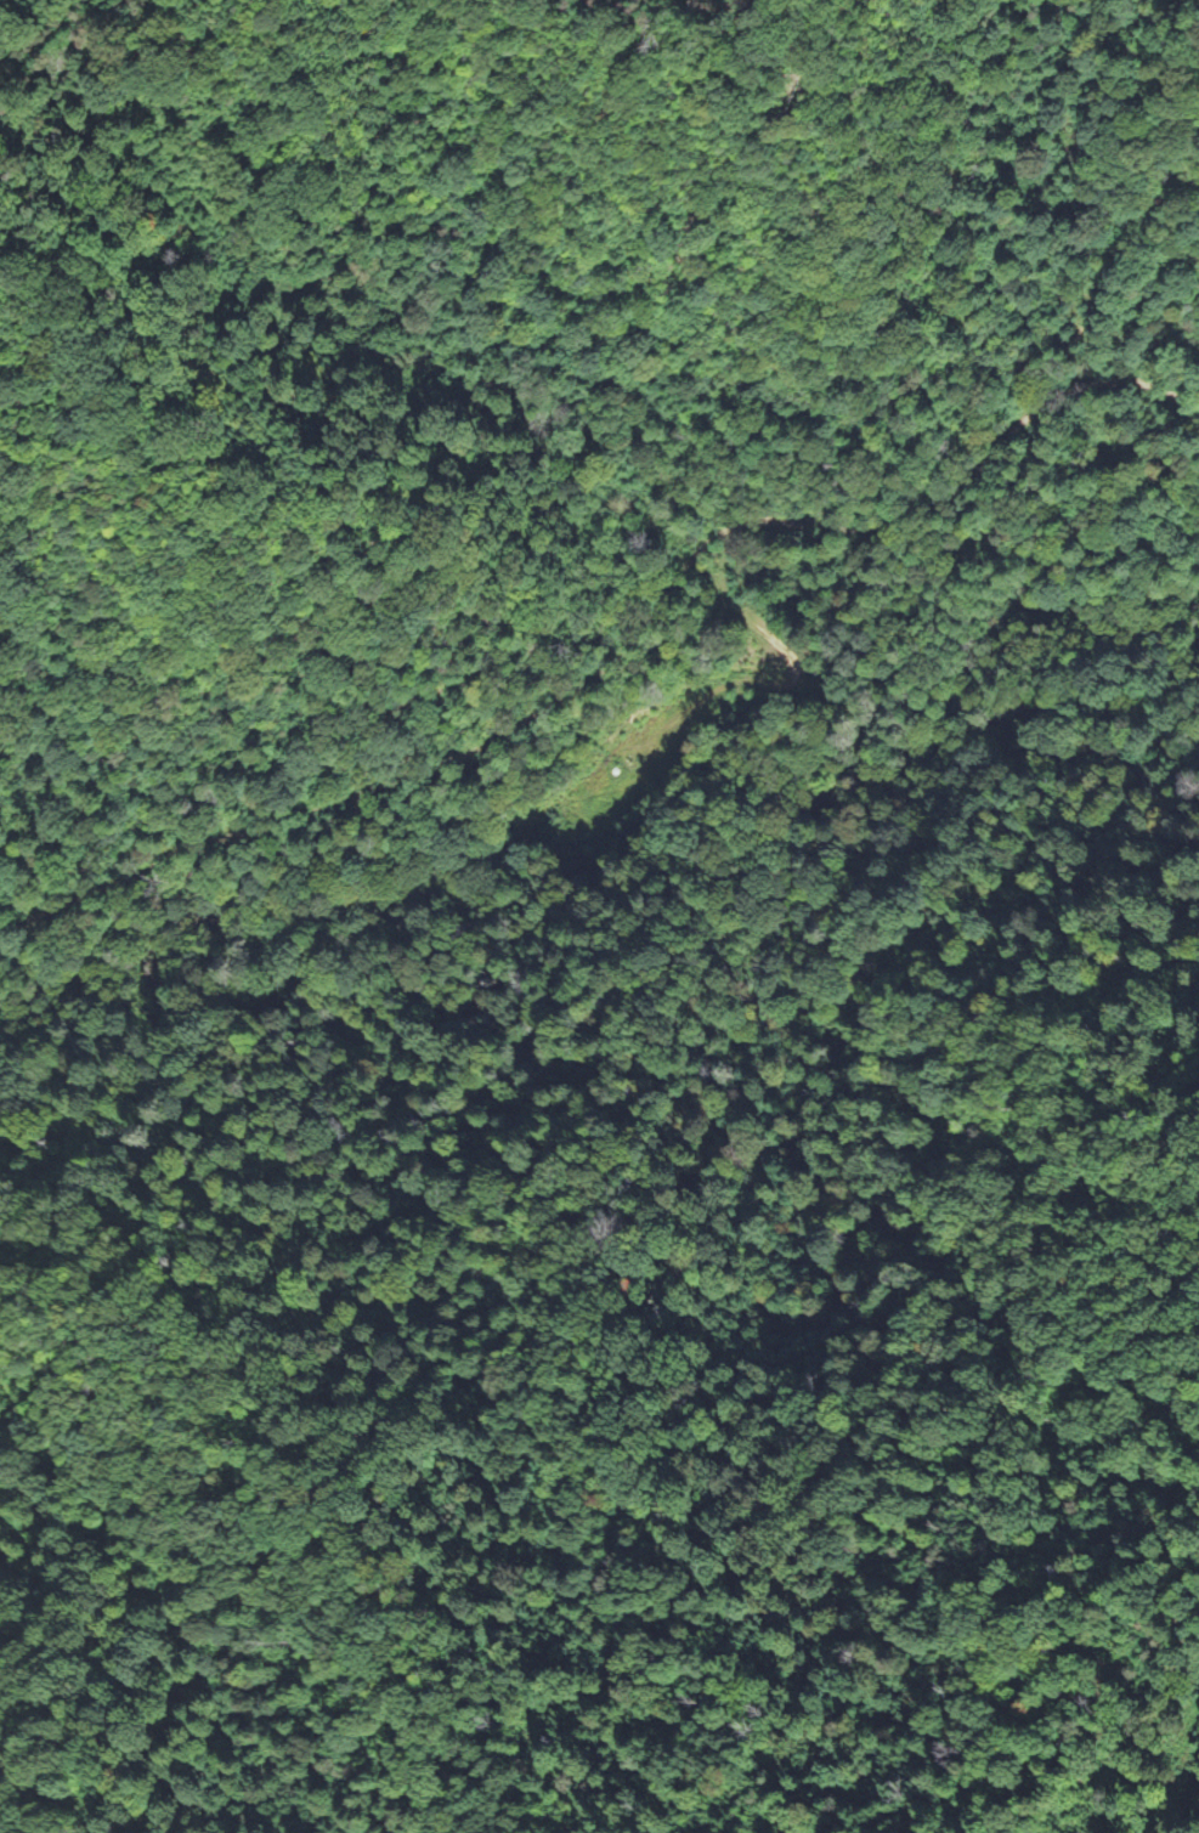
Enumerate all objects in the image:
road: (604, 616)

